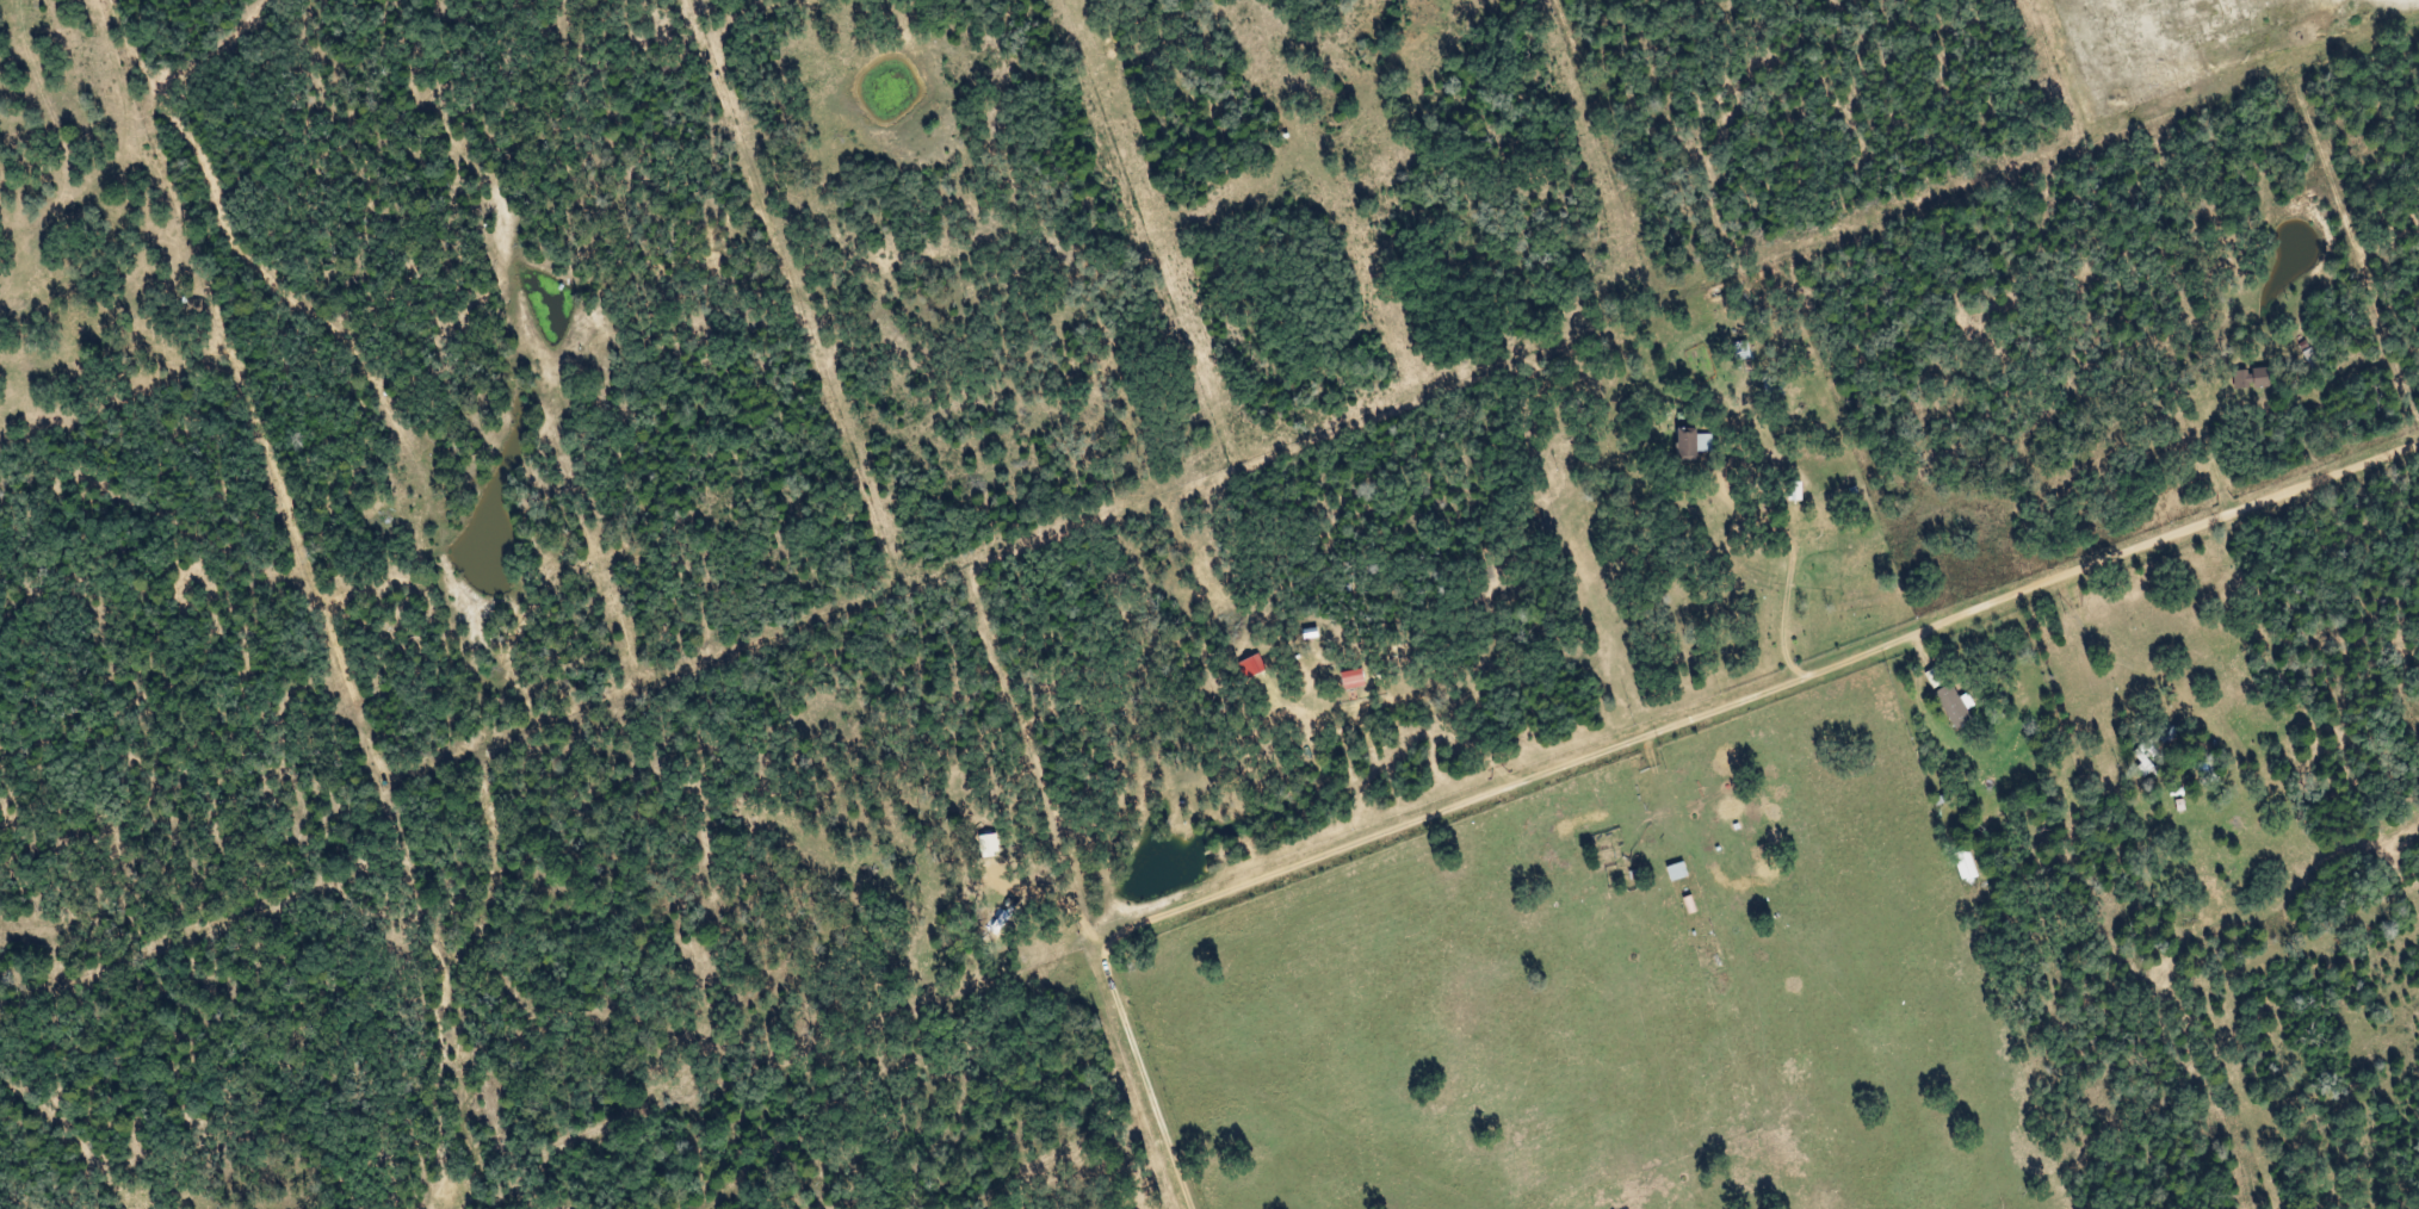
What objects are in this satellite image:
building: (2240, 379)
building: (1699, 445)
building: (1938, 700)
road: (1635, 738)
building: (1955, 864)
building: (1684, 870)

